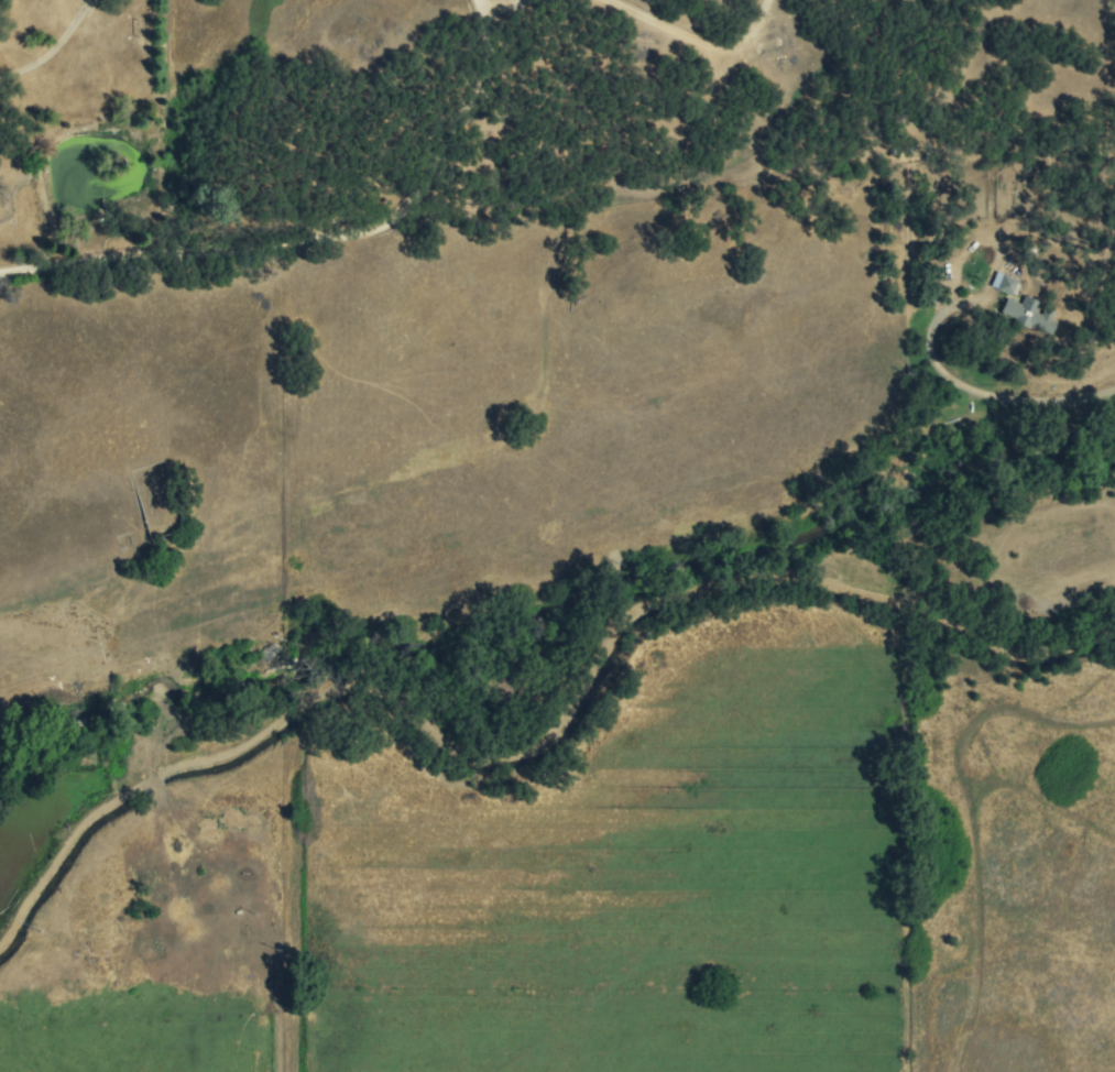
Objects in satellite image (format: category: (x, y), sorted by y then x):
road: (58, 52)
road: (387, 225)
road: (65, 264)
building: (1002, 283)
building: (1028, 314)

